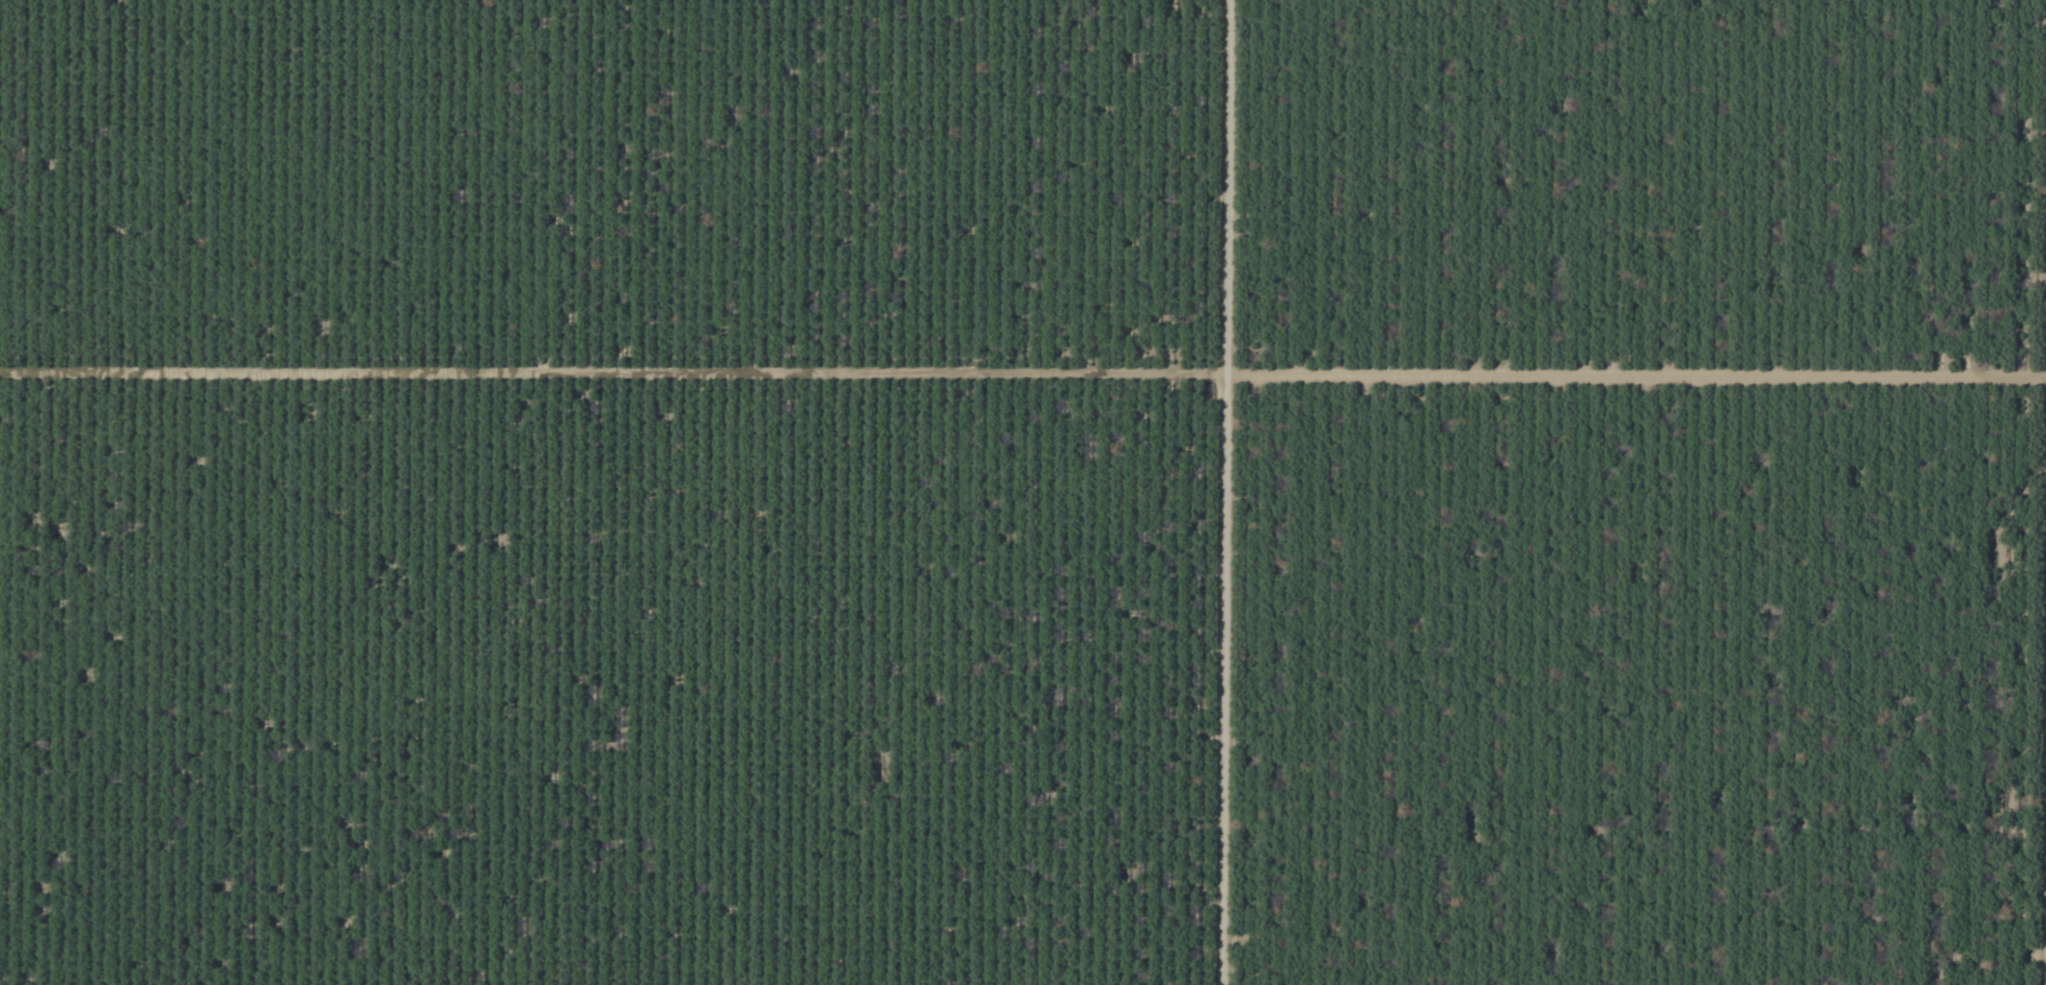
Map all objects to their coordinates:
crop: (1023, 492)
road: (1192, 492)

